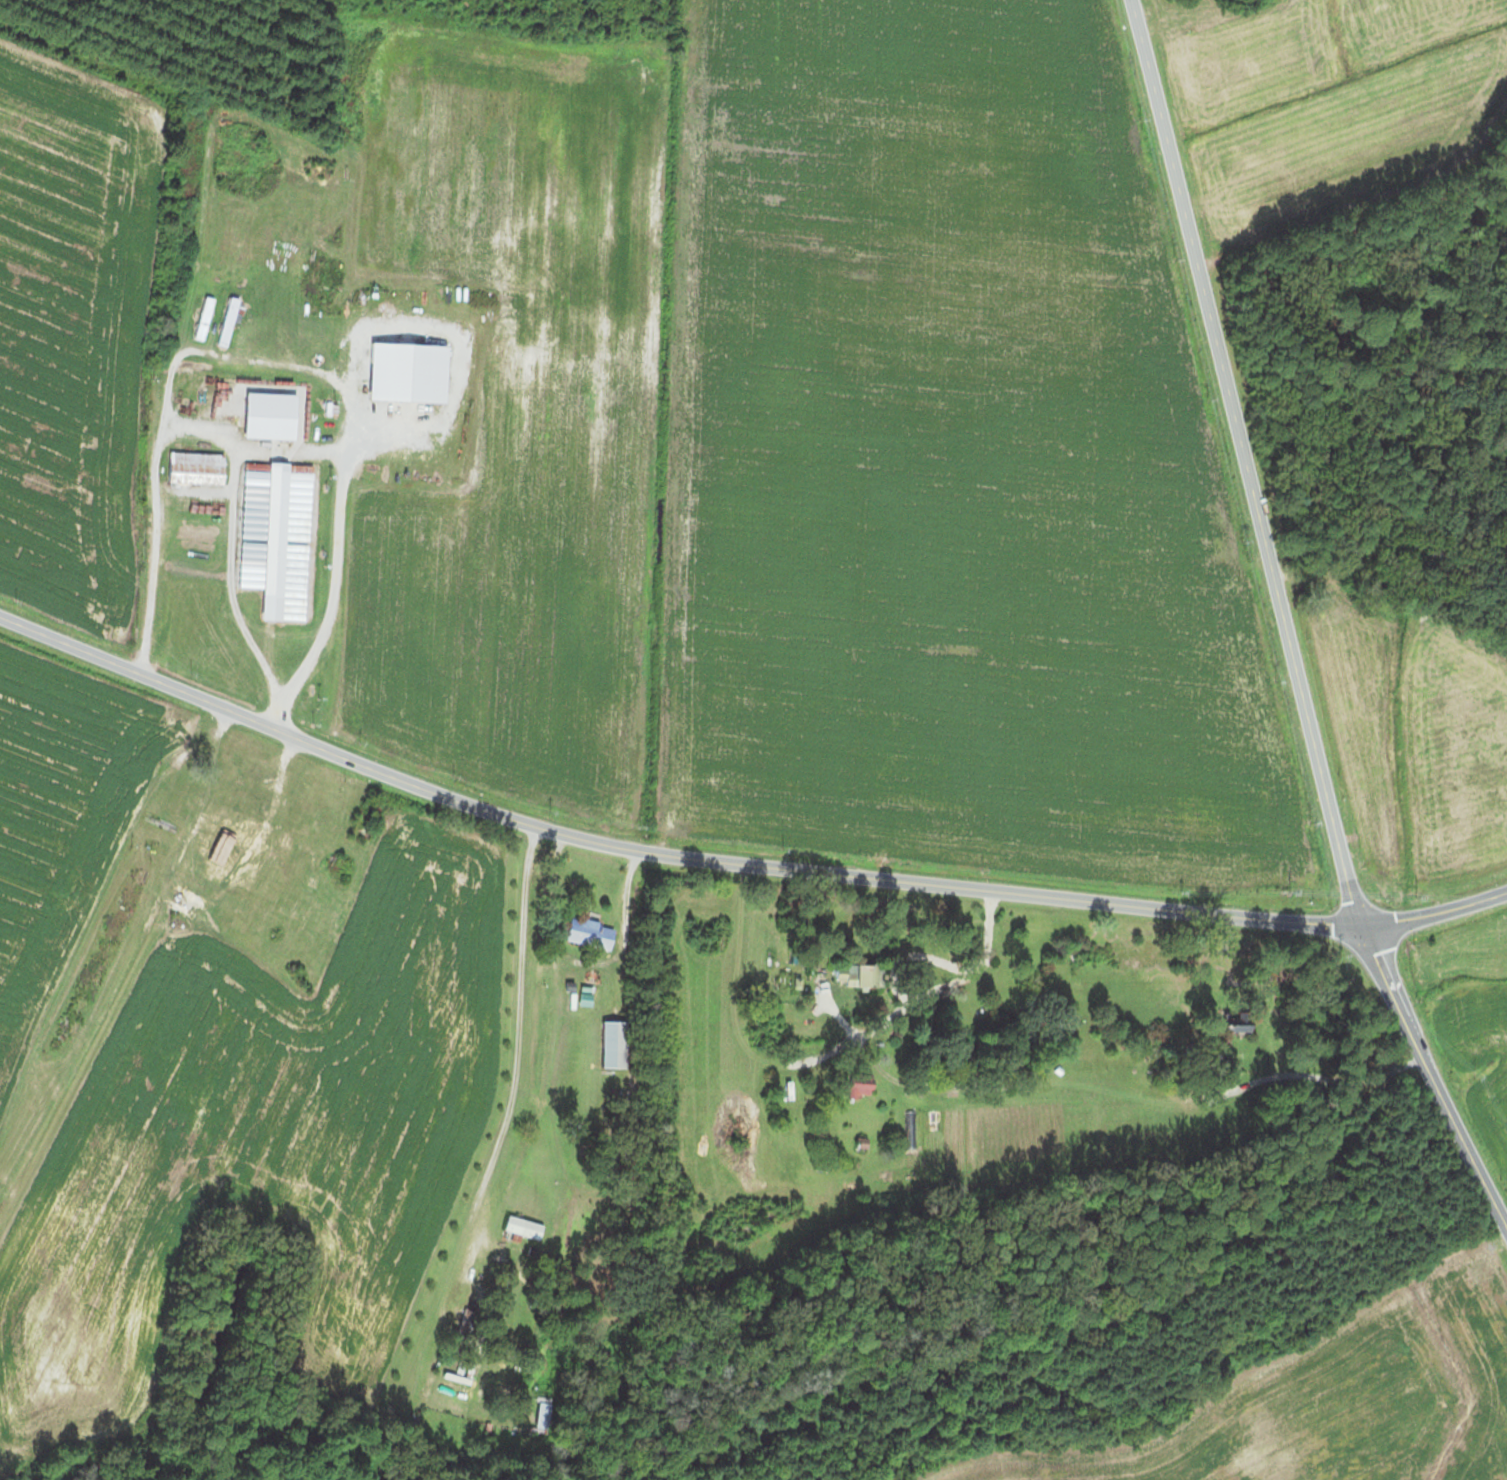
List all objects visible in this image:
road: (276, 362)
building: (272, 428)
road: (1248, 464)
building: (188, 467)
building: (267, 540)
building: (228, 649)
building: (230, 849)
road: (663, 853)
road: (1436, 910)
traffic signals: (1366, 928)
building: (583, 932)
building: (848, 973)
building: (581, 994)
road: (918, 994)
road: (512, 1022)
building: (599, 1042)
road: (1431, 1077)
road: (1342, 1078)
building: (519, 1226)
building: (540, 1412)

